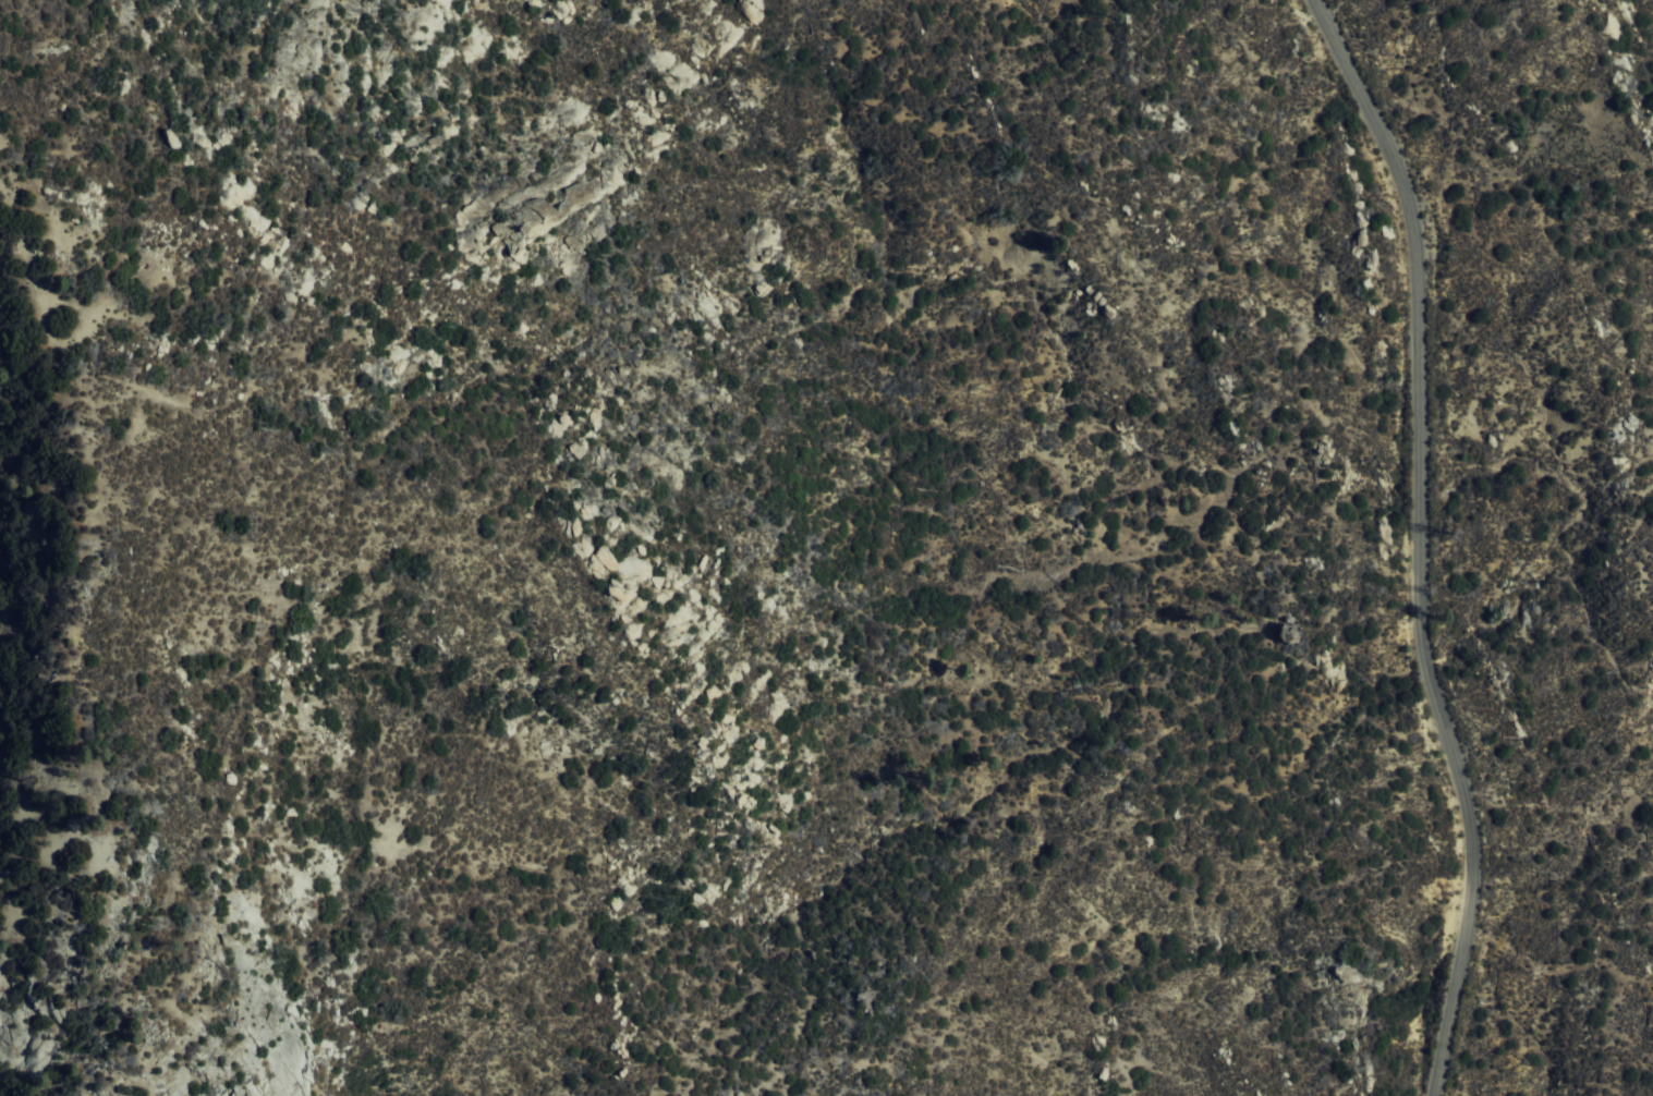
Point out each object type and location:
road: (1414, 541)

